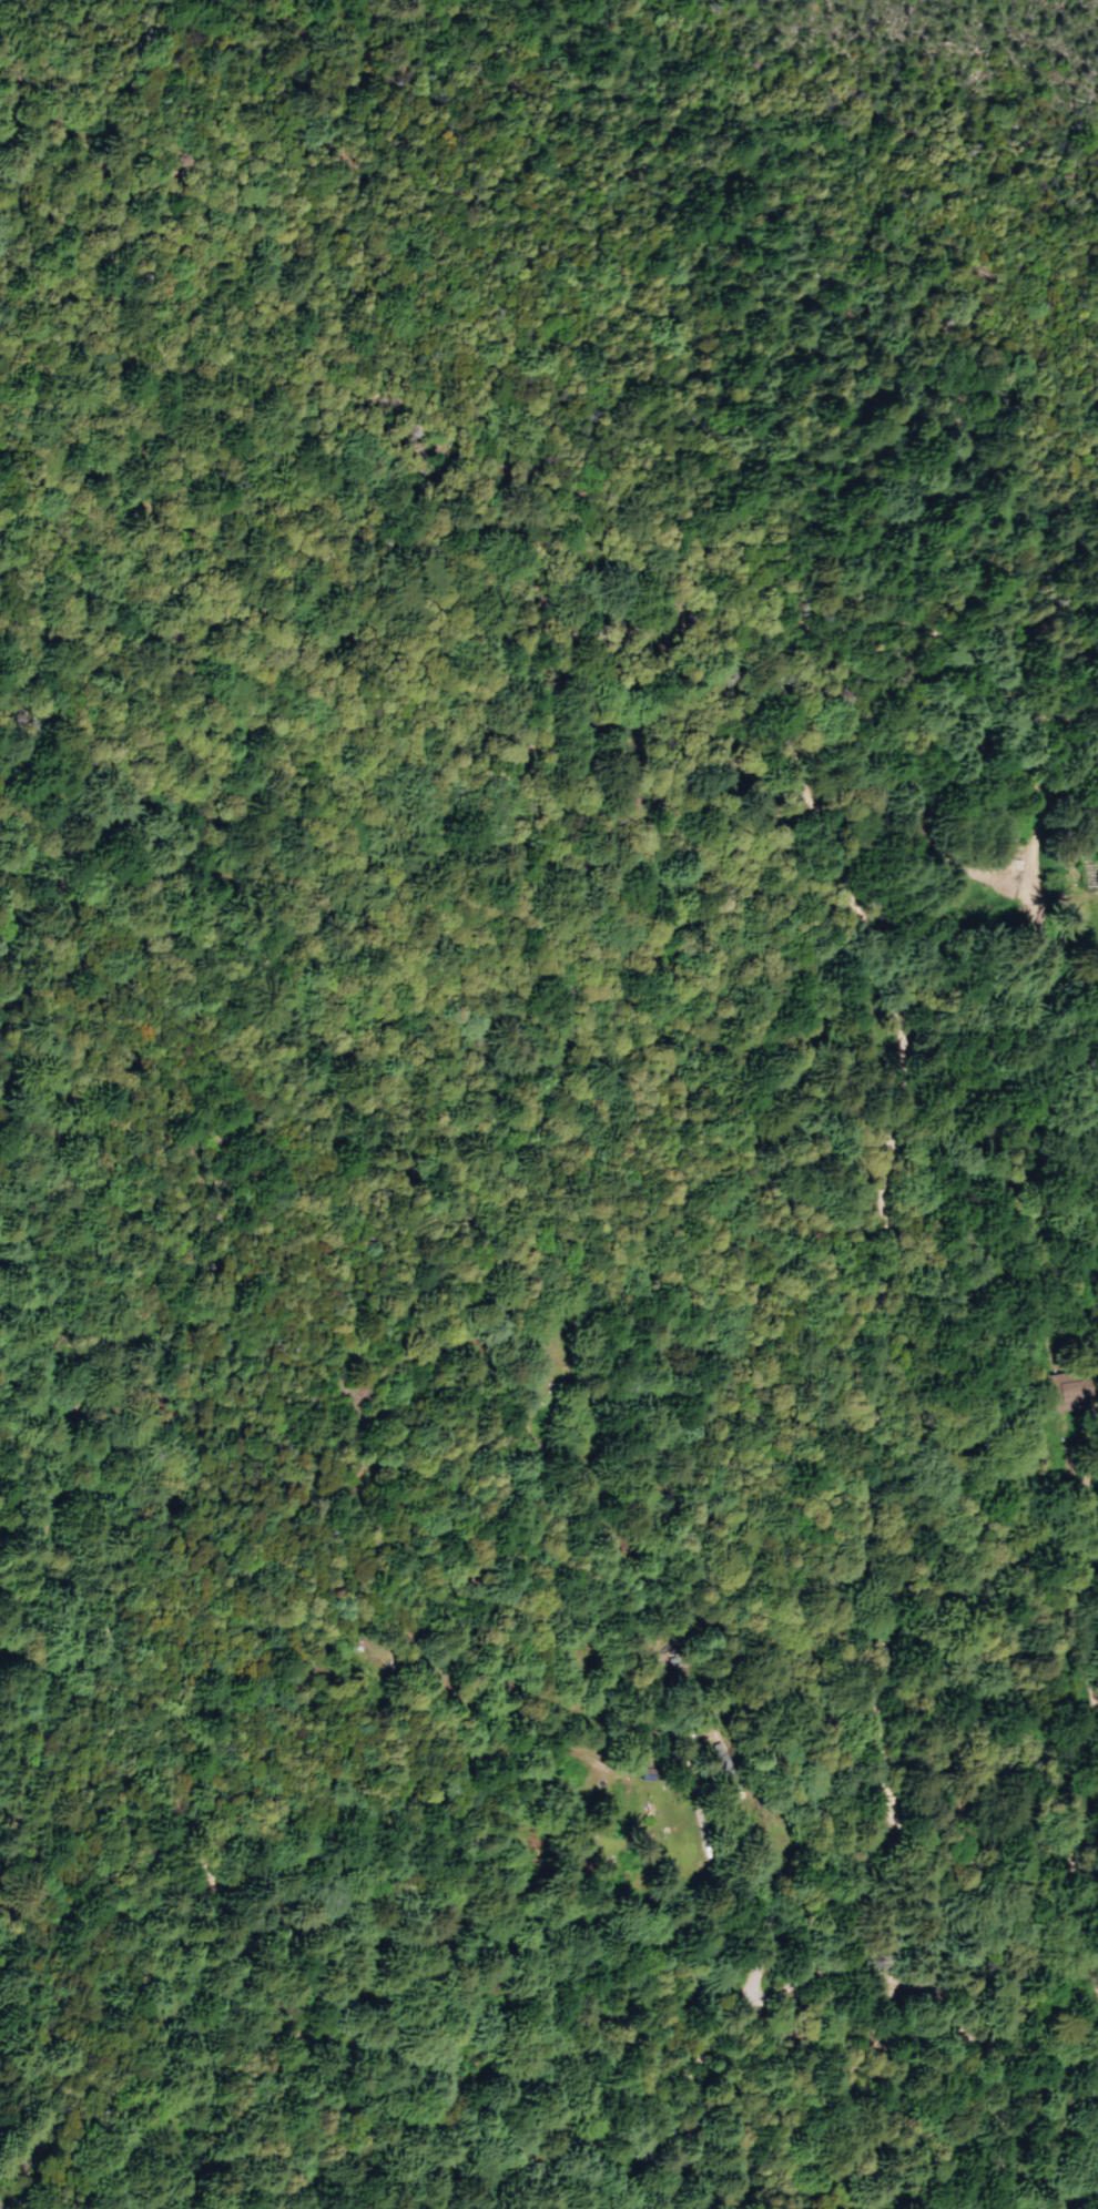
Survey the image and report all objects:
road: (886, 1255)
road: (1037, 1335)
road: (359, 1656)
road: (1026, 1978)
road: (28, 2009)
road: (753, 2017)
road: (1075, 2178)
road: (250, 2182)

